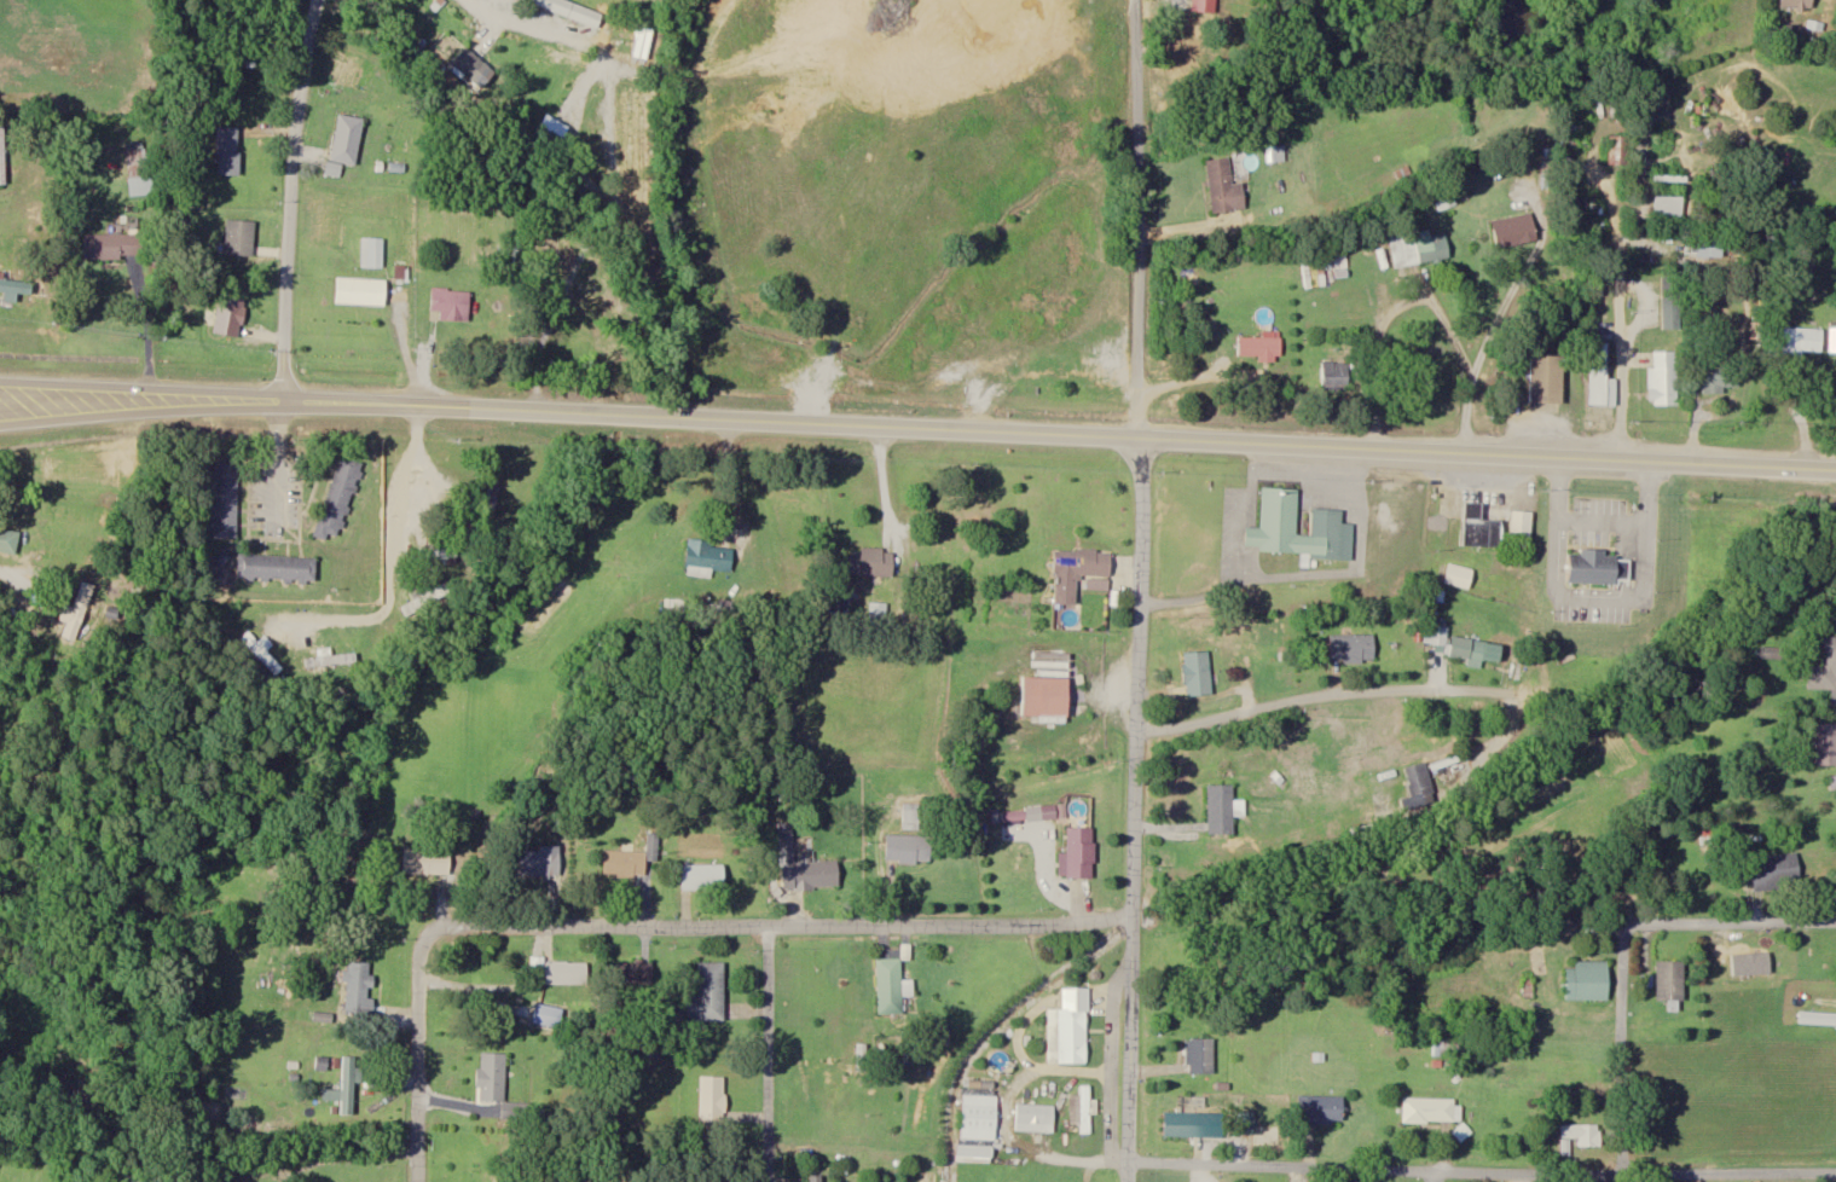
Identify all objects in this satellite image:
building: (1800, 5)
building: (1206, 6)
building: (572, 10)
building: (1782, 35)
building: (469, 63)
building: (552, 132)
building: (348, 139)
building: (228, 151)
building: (1618, 151)
building: (1275, 155)
building: (2, 156)
building: (139, 169)
building: (1224, 187)
road: (293, 196)
building: (1669, 209)
building: (1516, 231)
building: (239, 238)
building: (115, 247)
building: (1425, 248)
building: (1704, 248)
building: (372, 254)
road: (1517, 282)
building: (15, 288)
building: (361, 292)
road: (1418, 303)
building: (1672, 303)
building: (451, 305)
building: (583, 308)
building: (230, 314)
building: (1832, 337)
building: (1801, 341)
building: (1261, 349)
road: (1621, 359)
building: (1599, 373)
building: (1334, 377)
road: (120, 378)
building: (1663, 378)
building: (1721, 378)
building: (1547, 379)
road: (120, 405)
road: (695, 411)
road: (1493, 445)
building: (493, 482)
building: (225, 497)
building: (338, 497)
building: (1280, 516)
building: (1523, 525)
building: (1482, 526)
building: (8, 538)
building: (436, 554)
building: (710, 556)
building: (871, 561)
building: (1599, 566)
building: (277, 567)
building: (1081, 570)
building: (1459, 575)
road: (1137, 591)
building: (425, 598)
building: (77, 610)
building: (1354, 647)
building: (1470, 649)
building: (262, 653)
building: (331, 659)
building: (1824, 667)
building: (1198, 672)
building: (1048, 685)
road: (1321, 697)
building: (1825, 744)
building: (1419, 784)
building: (1221, 809)
building: (910, 816)
building: (908, 847)
building: (1079, 852)
building: (631, 859)
building: (427, 861)
building: (540, 861)
building: (804, 867)
building: (1777, 871)
building: (703, 875)
road: (653, 925)
road: (1733, 925)
building: (1753, 957)
building: (566, 972)
building: (635, 973)
building: (1589, 980)
building: (1672, 980)
building: (1084, 983)
building: (890, 986)
building: (358, 987)
building: (708, 993)
building: (546, 1015)
building: (1067, 1036)
road: (1622, 1048)
road: (766, 1053)
building: (1200, 1056)
building: (349, 1083)
building: (497, 1084)
building: (712, 1099)
building: (1320, 1109)
building: (1429, 1109)
building: (1082, 1112)
building: (979, 1117)
building: (1035, 1118)
building: (1186, 1124)
building: (1583, 1134)
road: (1479, 1171)

